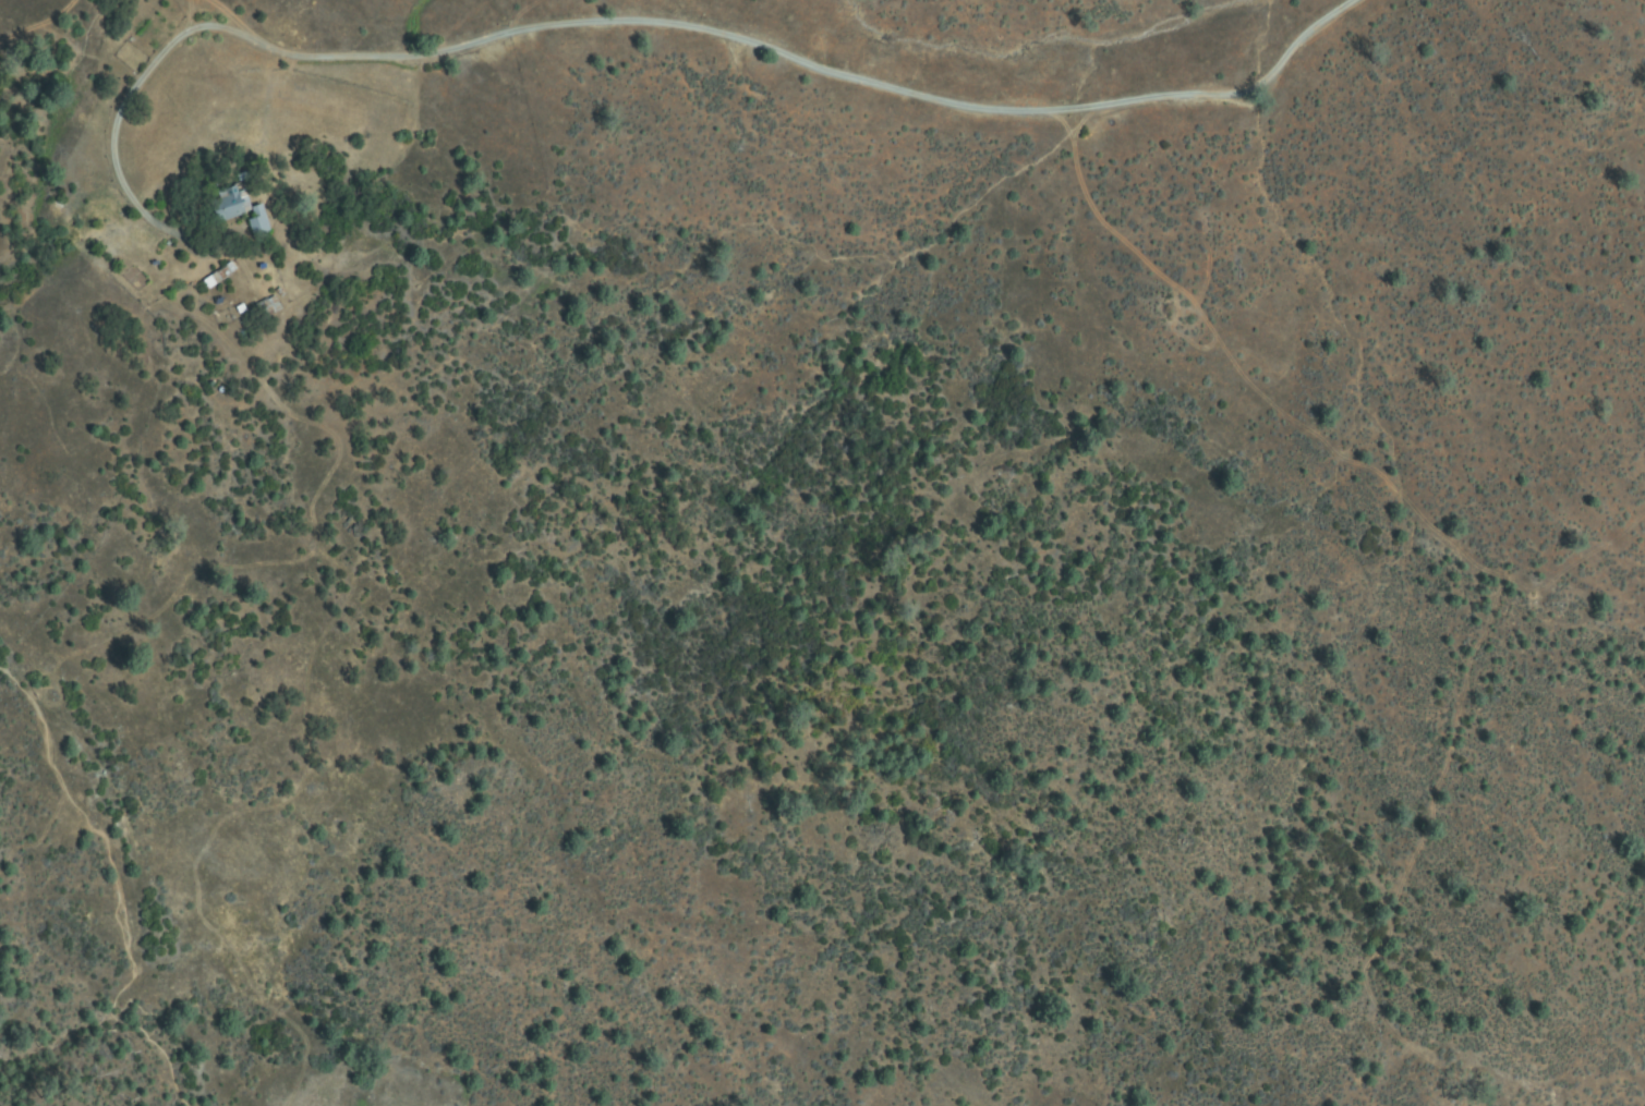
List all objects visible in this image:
road: (217, 19)
road: (820, 68)
road: (114, 124)
building: (230, 205)
building: (258, 223)
building: (220, 275)
building: (281, 292)
building: (241, 308)
building: (267, 308)
storage tank: (220, 389)
road: (114, 892)

